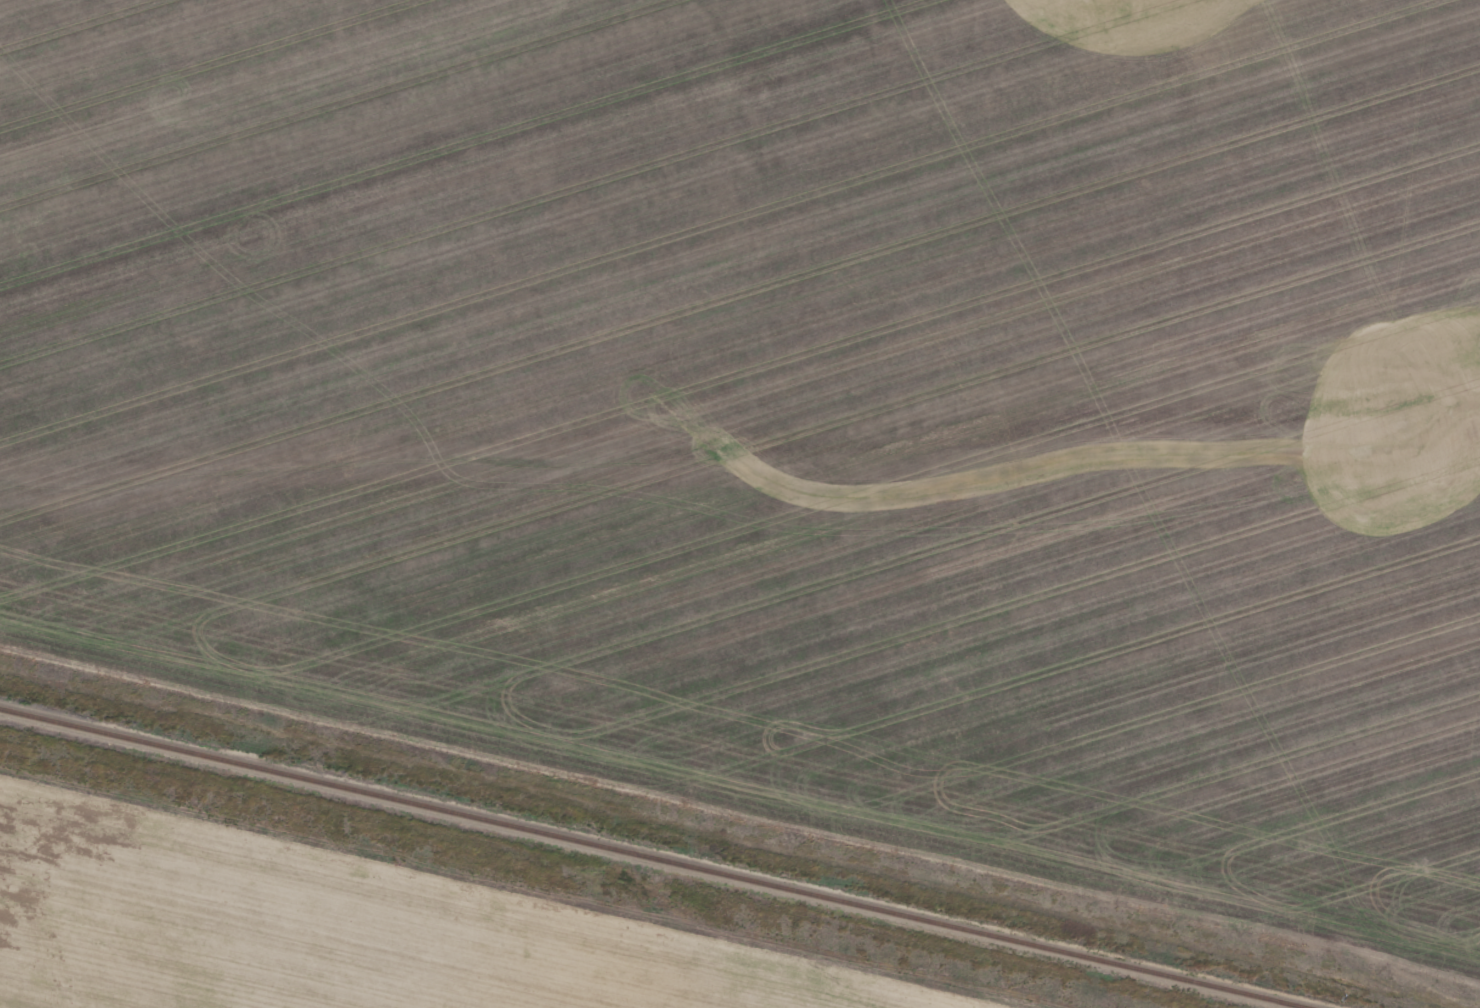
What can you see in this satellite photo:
railway: (652, 858)

